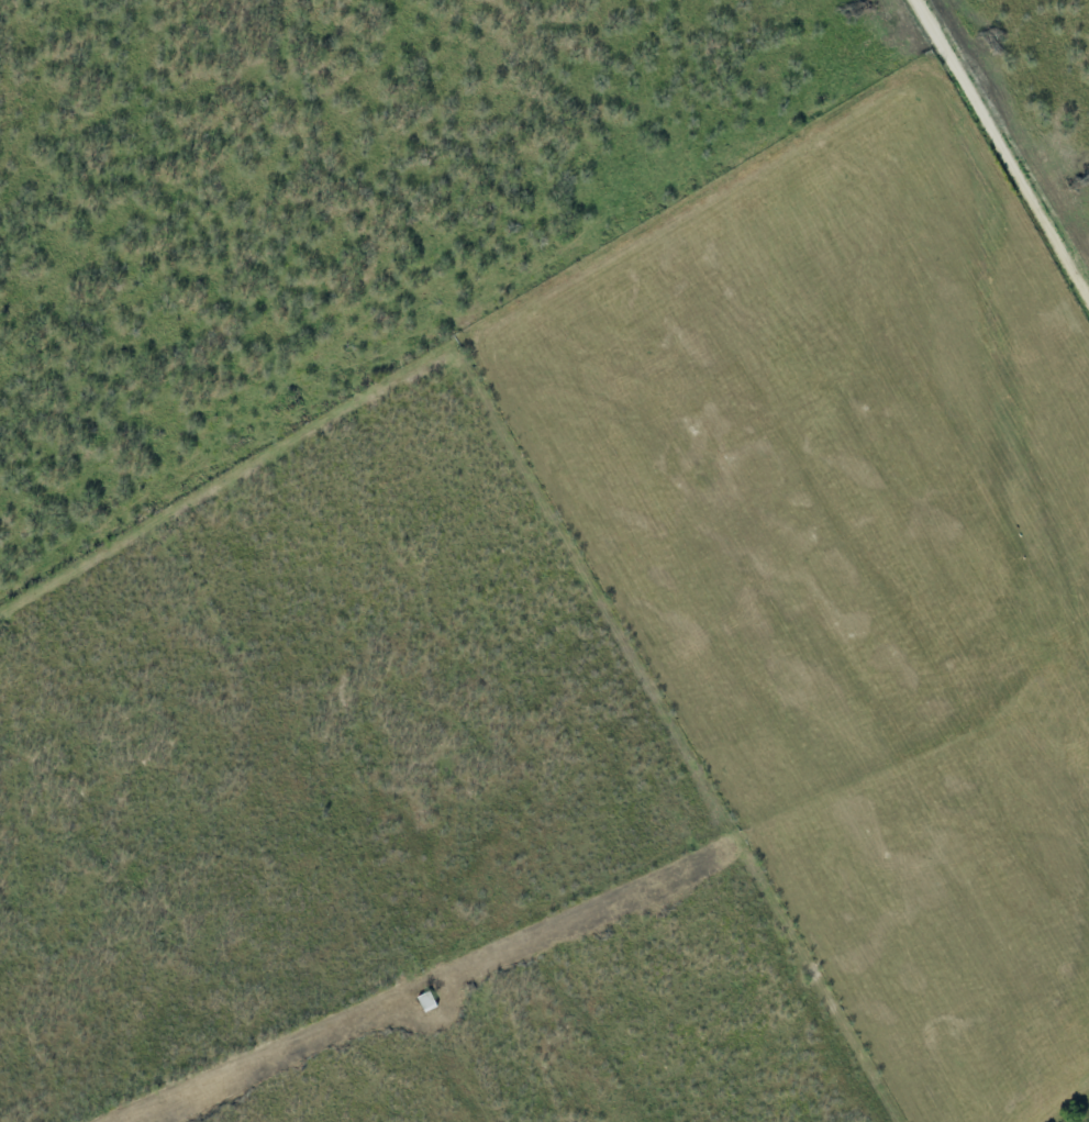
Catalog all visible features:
road: (1005, 142)

